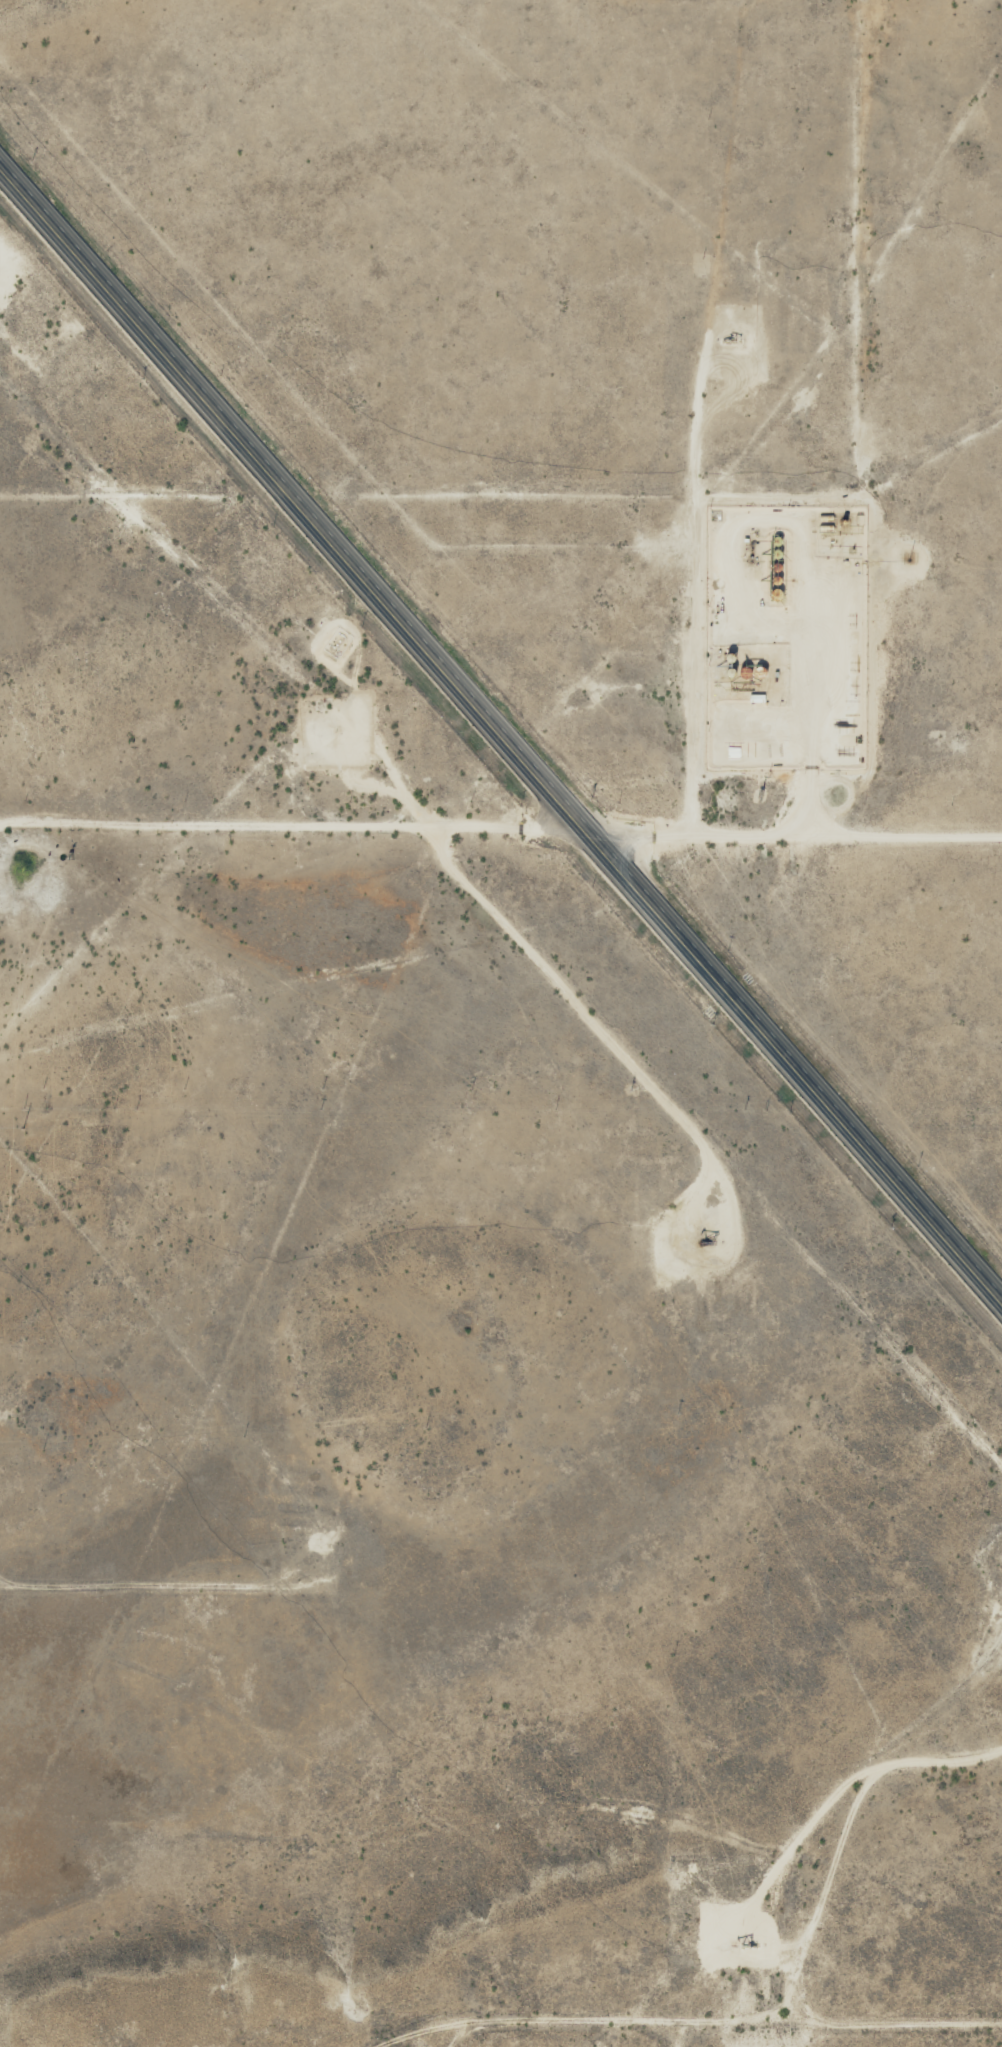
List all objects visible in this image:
road: (507, 720)
road: (500, 820)
road: (143, 1574)
road: (777, 1997)

